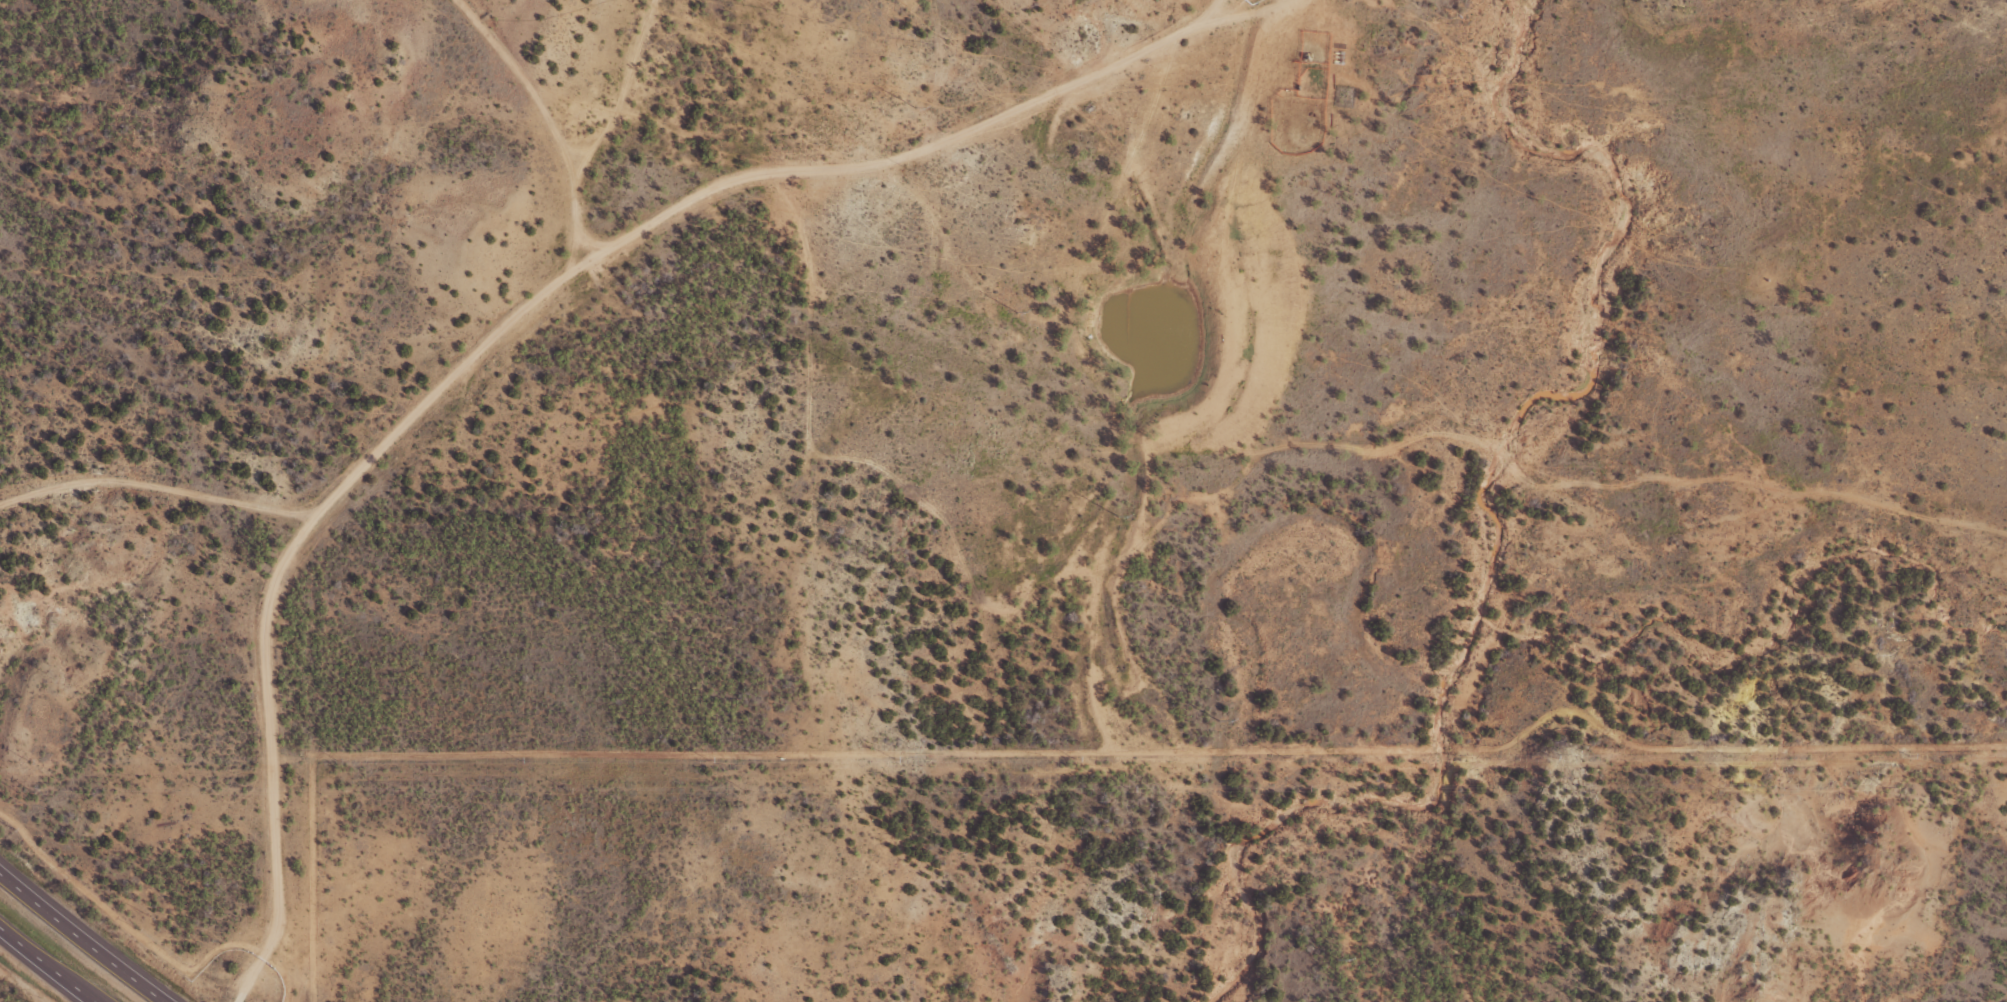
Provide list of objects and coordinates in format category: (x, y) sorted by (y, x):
road: (1215, 14)
road: (544, 298)
road: (81, 942)
road: (47, 966)

